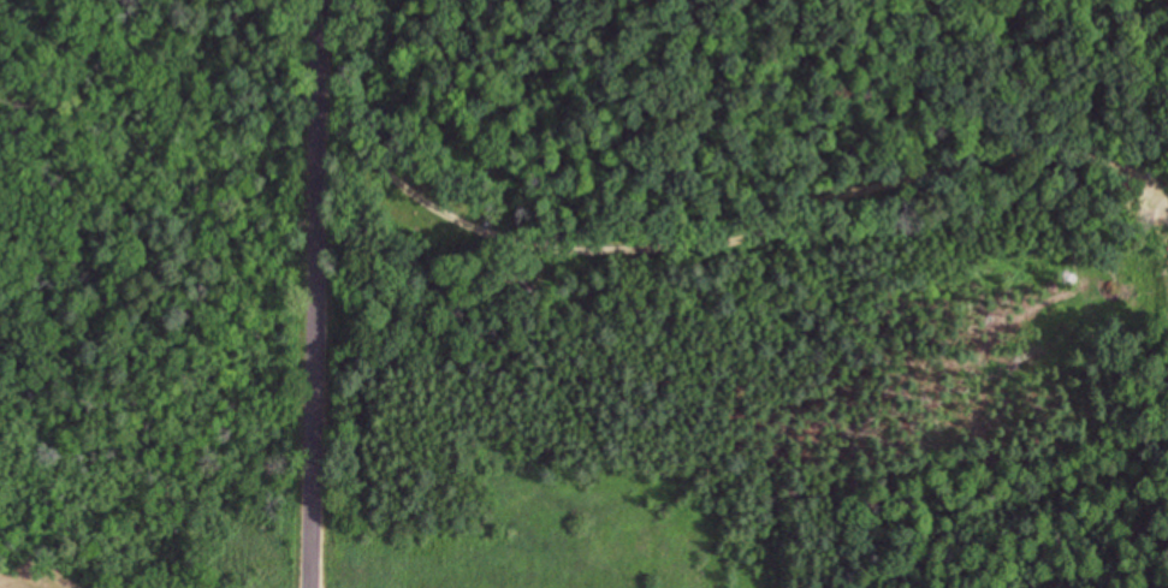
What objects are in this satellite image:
road: (319, 293)

